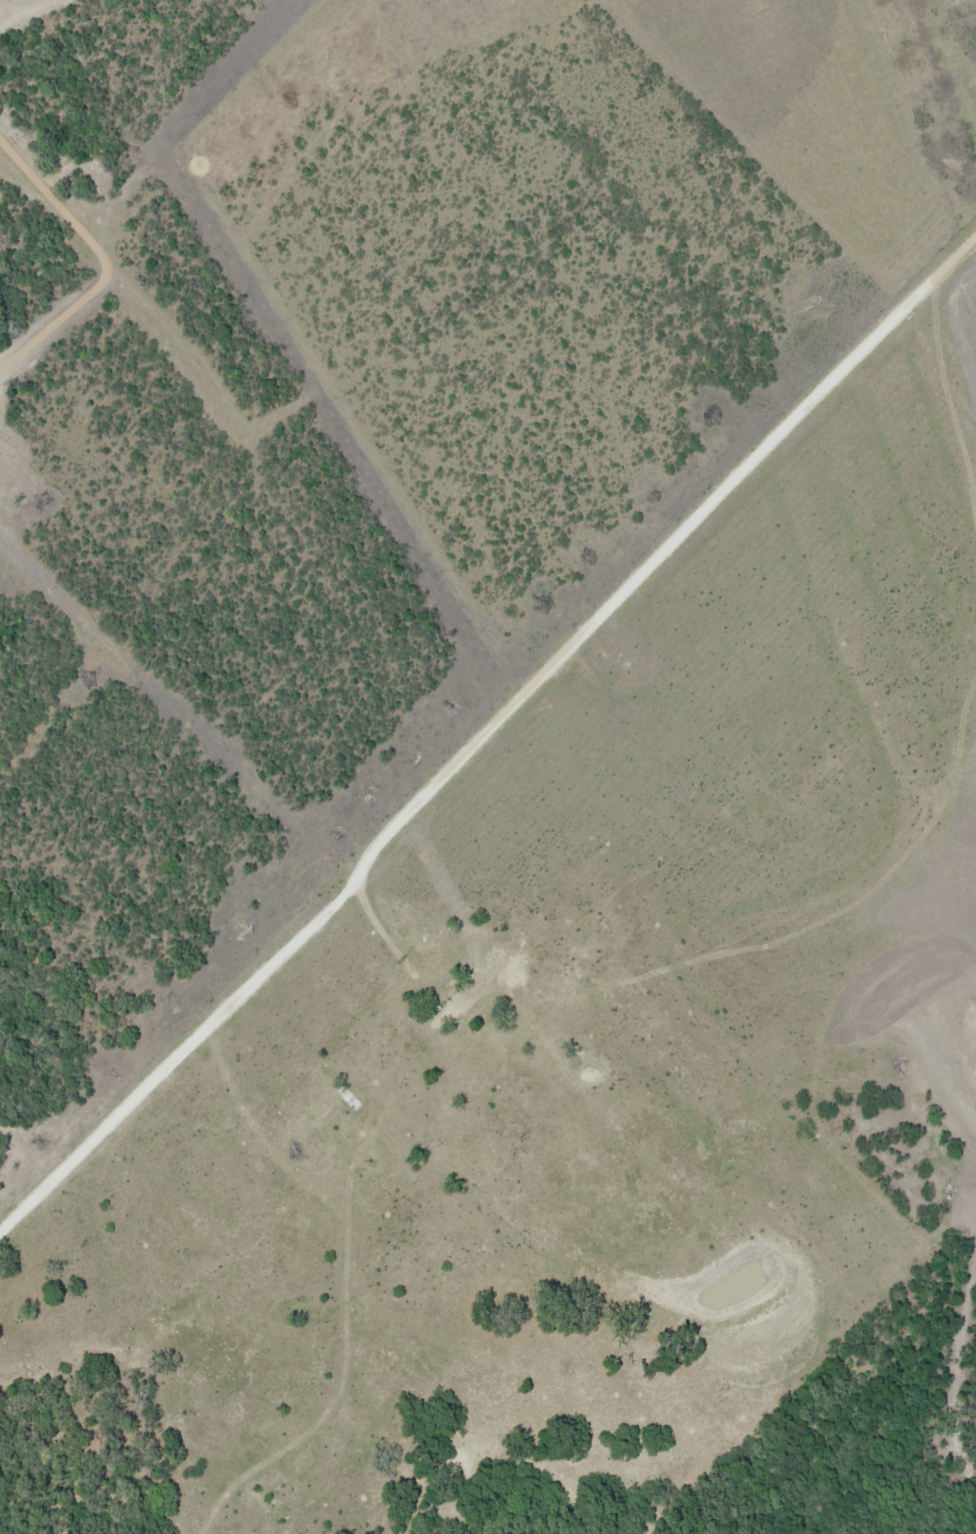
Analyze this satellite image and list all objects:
road: (484, 733)
building: (429, 937)
building: (474, 984)
building: (461, 1016)
building: (558, 1047)
building: (340, 1104)
road: (347, 1217)

